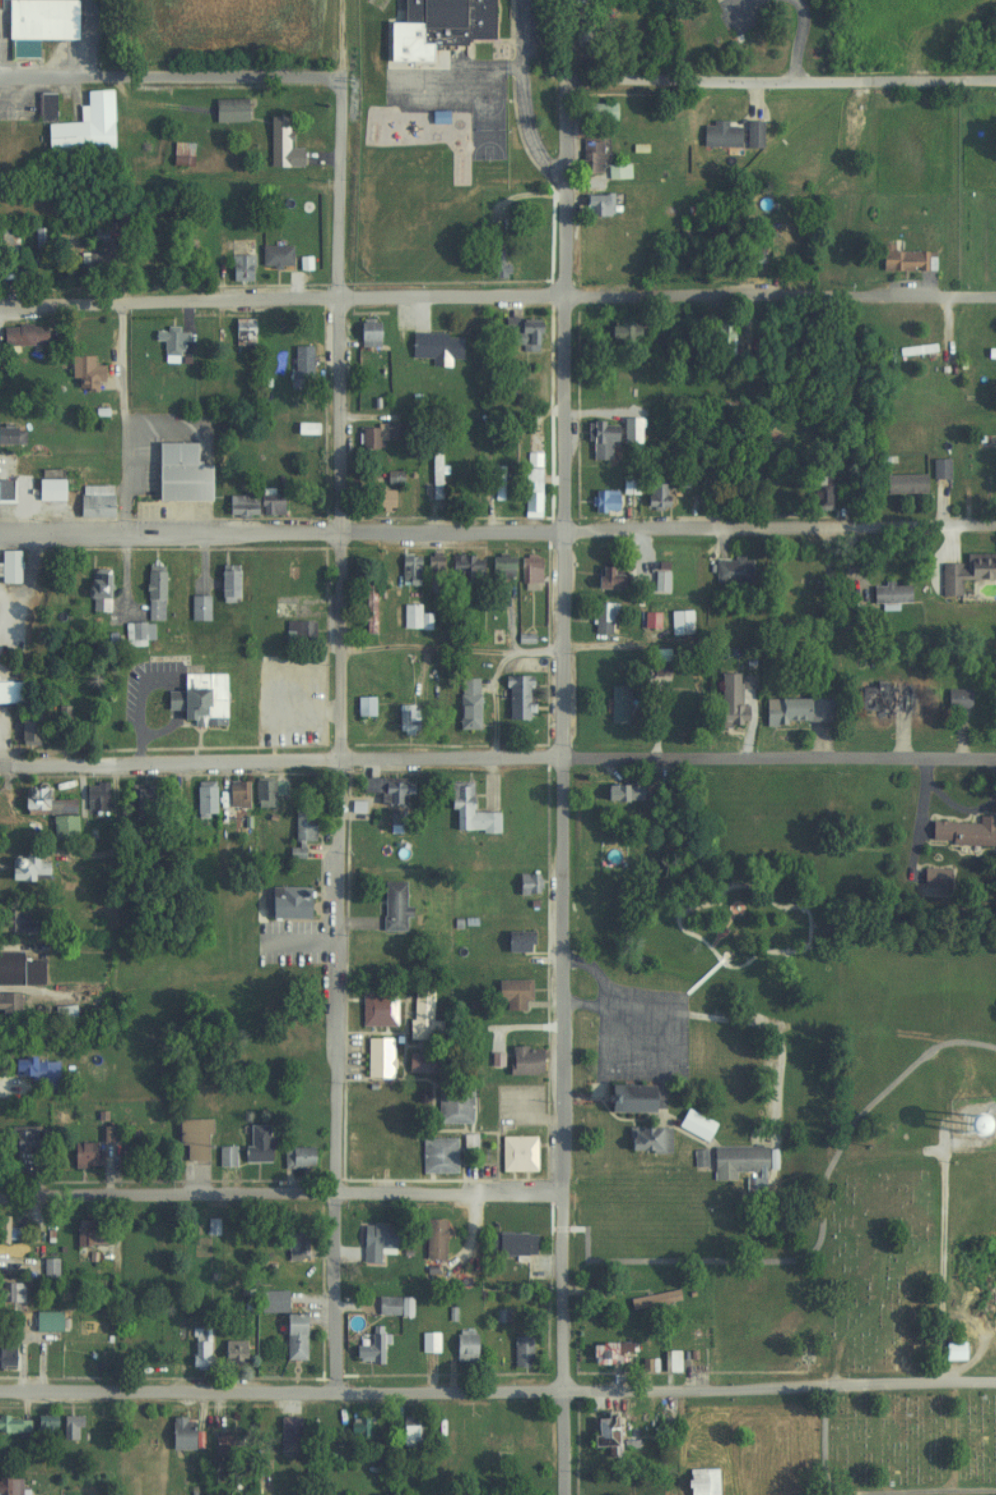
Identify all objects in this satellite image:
road: (740, 8)
building: (443, 21)
building: (33, 24)
road: (794, 39)
road: (183, 73)
road: (747, 82)
building: (42, 107)
building: (226, 110)
building: (595, 112)
building: (81, 126)
building: (715, 134)
building: (748, 134)
building: (278, 144)
building: (177, 153)
building: (587, 157)
building: (612, 172)
building: (593, 205)
building: (271, 255)
building: (750, 256)
building: (901, 259)
building: (493, 261)
building: (88, 263)
building: (236, 267)
road: (497, 297)
building: (240, 331)
building: (618, 331)
building: (362, 333)
building: (516, 333)
building: (21, 335)
building: (720, 336)
building: (165, 342)
building: (430, 346)
building: (911, 350)
building: (989, 354)
building: (297, 361)
building: (79, 371)
road: (560, 375)
road: (343, 378)
road: (128, 421)
building: (300, 428)
building: (600, 432)
building: (5, 434)
building: (374, 434)
building: (936, 469)
building: (175, 473)
building: (430, 475)
building: (389, 477)
building: (493, 483)
building: (901, 484)
building: (44, 485)
building: (527, 492)
building: (816, 492)
building: (655, 493)
building: (12, 496)
building: (376, 498)
building: (89, 500)
building: (601, 500)
building: (250, 504)
road: (469, 535)
building: (495, 565)
building: (6, 566)
building: (462, 567)
building: (404, 570)
building: (730, 570)
building: (965, 571)
building: (430, 572)
building: (525, 573)
building: (604, 577)
building: (656, 581)
building: (223, 583)
building: (92, 585)
building: (150, 592)
building: (886, 595)
building: (94, 607)
building: (196, 608)
building: (364, 609)
building: (410, 617)
building: (600, 617)
building: (677, 623)
building: (294, 631)
building: (133, 633)
building: (656, 662)
building: (9, 691)
building: (512, 697)
building: (878, 698)
building: (953, 698)
building: (194, 699)
building: (728, 699)
building: (463, 703)
building: (615, 703)
building: (360, 706)
building: (794, 710)
building: (400, 719)
building: (24, 729)
road: (498, 759)
building: (384, 789)
building: (262, 791)
building: (618, 792)
building: (231, 793)
building: (136, 794)
building: (91, 795)
building: (199, 798)
building: (352, 806)
building: (464, 810)
building: (46, 812)
building: (297, 830)
building: (959, 832)
building: (13, 867)
building: (930, 878)
building: (524, 884)
building: (282, 902)
building: (389, 906)
road: (42, 915)
building: (10, 919)
building: (513, 942)
building: (16, 970)
building: (508, 993)
building: (7, 1003)
building: (374, 1008)
building: (419, 1019)
building: (375, 1058)
building: (519, 1061)
building: (423, 1063)
building: (28, 1069)
road: (340, 1080)
building: (622, 1098)
building: (449, 1106)
road: (560, 1128)
building: (189, 1136)
building: (18, 1139)
building: (642, 1140)
building: (465, 1143)
building: (253, 1145)
building: (81, 1154)
building: (513, 1154)
building: (221, 1156)
building: (367, 1156)
building: (434, 1156)
building: (293, 1157)
building: (734, 1161)
road: (280, 1190)
building: (428, 1232)
building: (6, 1233)
road: (820, 1237)
building: (81, 1238)
building: (372, 1240)
building: (506, 1244)
building: (291, 1246)
road: (948, 1267)
building: (45, 1268)
building: (9, 1293)
building: (649, 1299)
building: (267, 1301)
building: (389, 1306)
building: (43, 1321)
building: (288, 1336)
building: (424, 1342)
building: (196, 1346)
building: (459, 1346)
building: (5, 1349)
building: (229, 1349)
building: (364, 1351)
building: (517, 1351)
building: (948, 1351)
building: (604, 1352)
road: (498, 1398)
building: (12, 1425)
building: (39, 1425)
building: (65, 1427)
building: (352, 1427)
building: (137, 1432)
building: (405, 1432)
building: (175, 1433)
building: (285, 1434)
building: (602, 1435)
building: (498, 1444)
road: (827, 1444)
building: (262, 1465)
building: (697, 1481)
road: (817, 1485)
building: (10, 1486)

